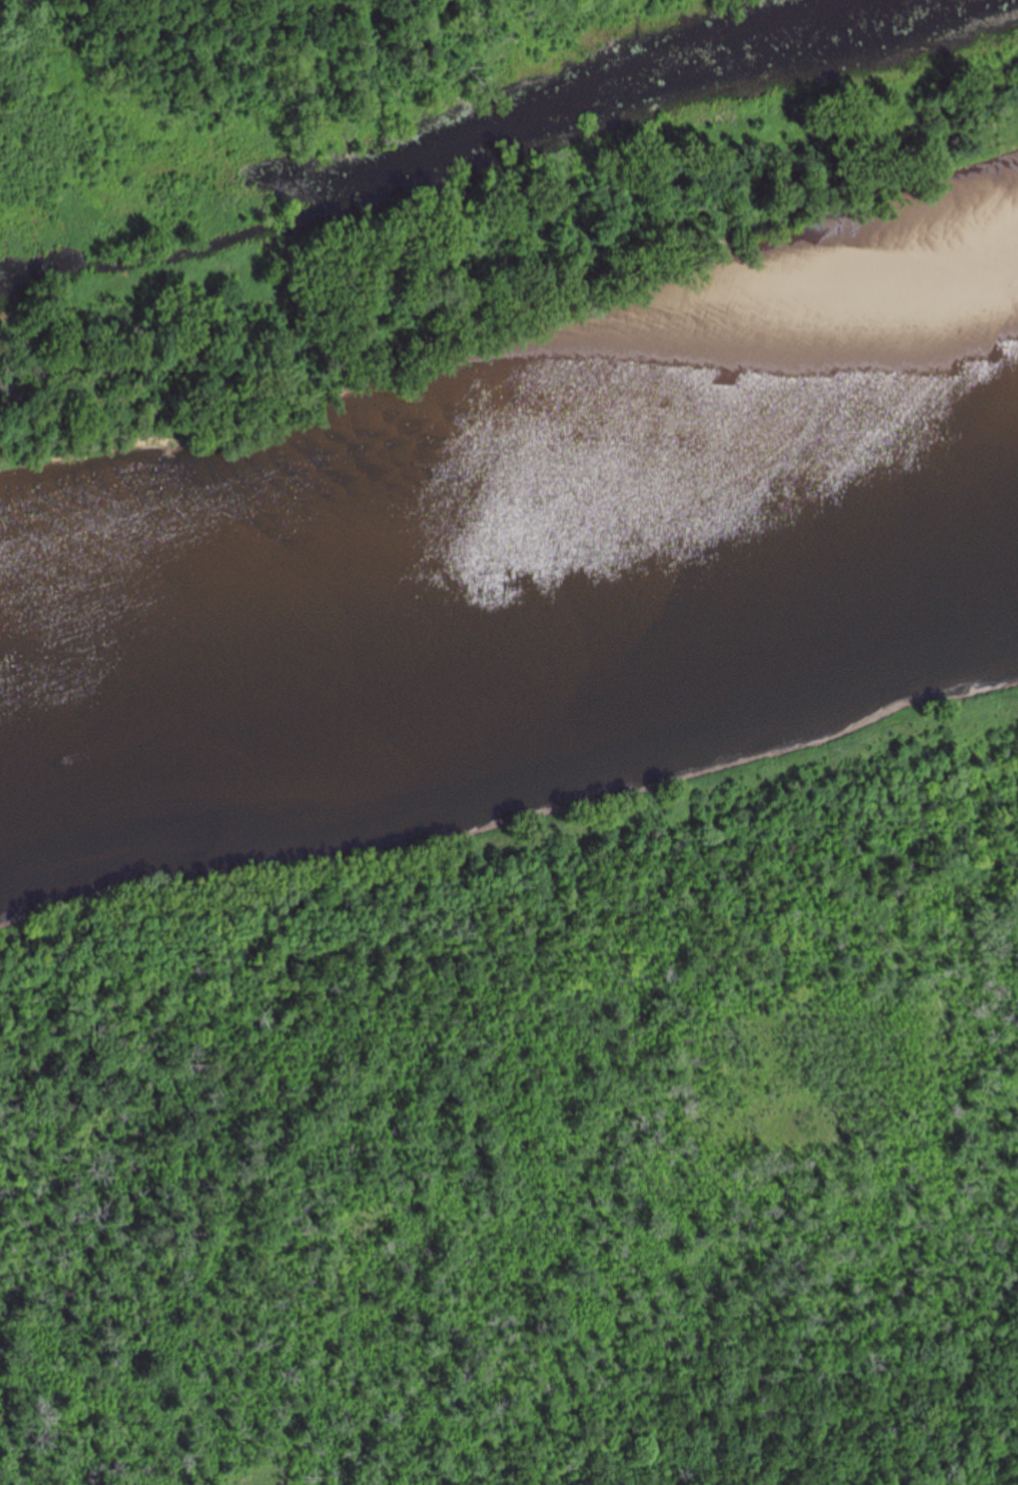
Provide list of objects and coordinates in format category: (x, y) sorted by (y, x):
river: (512, 593)
park: (533, 1022)

